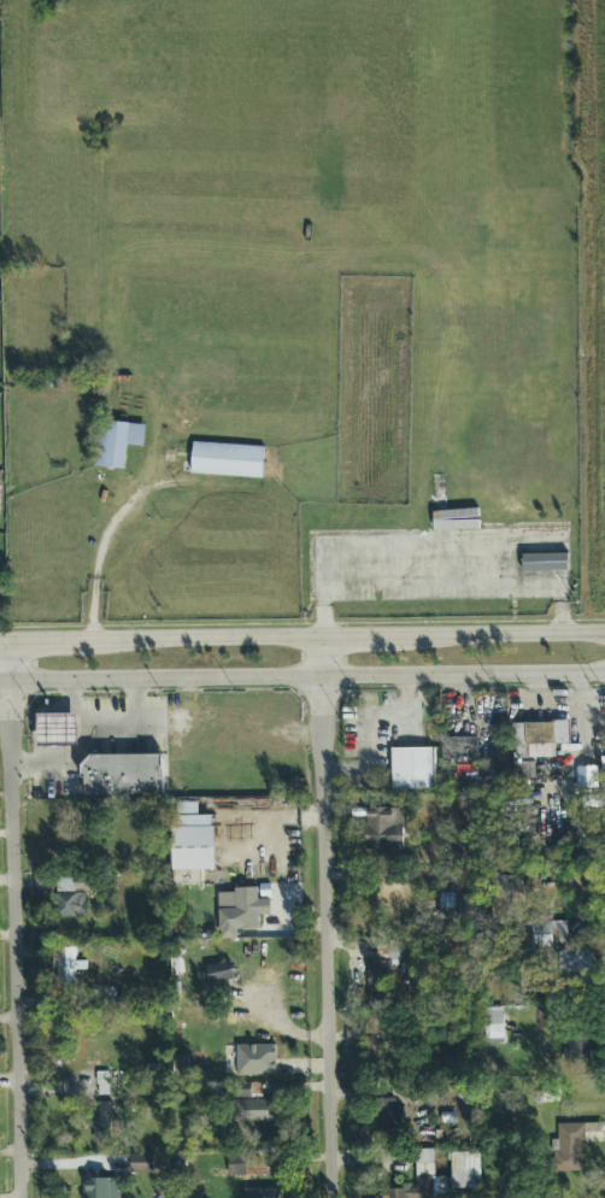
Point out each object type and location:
building: (117, 444)
building: (227, 462)
road: (98, 552)
building: (545, 564)
road: (360, 638)
road: (501, 638)
road: (205, 639)
road: (48, 640)
road: (5, 641)
road: (301, 676)
building: (560, 705)
road: (104, 713)
building: (57, 730)
building: (535, 745)
building: (459, 751)
road: (69, 765)
building: (412, 770)
building: (122, 776)
building: (586, 777)
building: (384, 829)
building: (192, 839)
building: (450, 886)
building: (507, 895)
building: (71, 906)
building: (454, 908)
building: (240, 912)
road: (327, 917)
road: (16, 918)
building: (548, 934)
building: (575, 965)
building: (67, 967)
building: (218, 973)
building: (377, 974)
building: (378, 1023)
building: (493, 1023)
building: (376, 1049)
building: (580, 1050)
building: (257, 1061)
building: (101, 1084)
building: (550, 1094)
building: (254, 1111)
building: (383, 1115)
building: (100, 1123)
building: (575, 1144)
building: (141, 1164)
building: (246, 1164)
building: (465, 1170)
building: (421, 1180)
building: (100, 1188)
building: (262, 1193)

